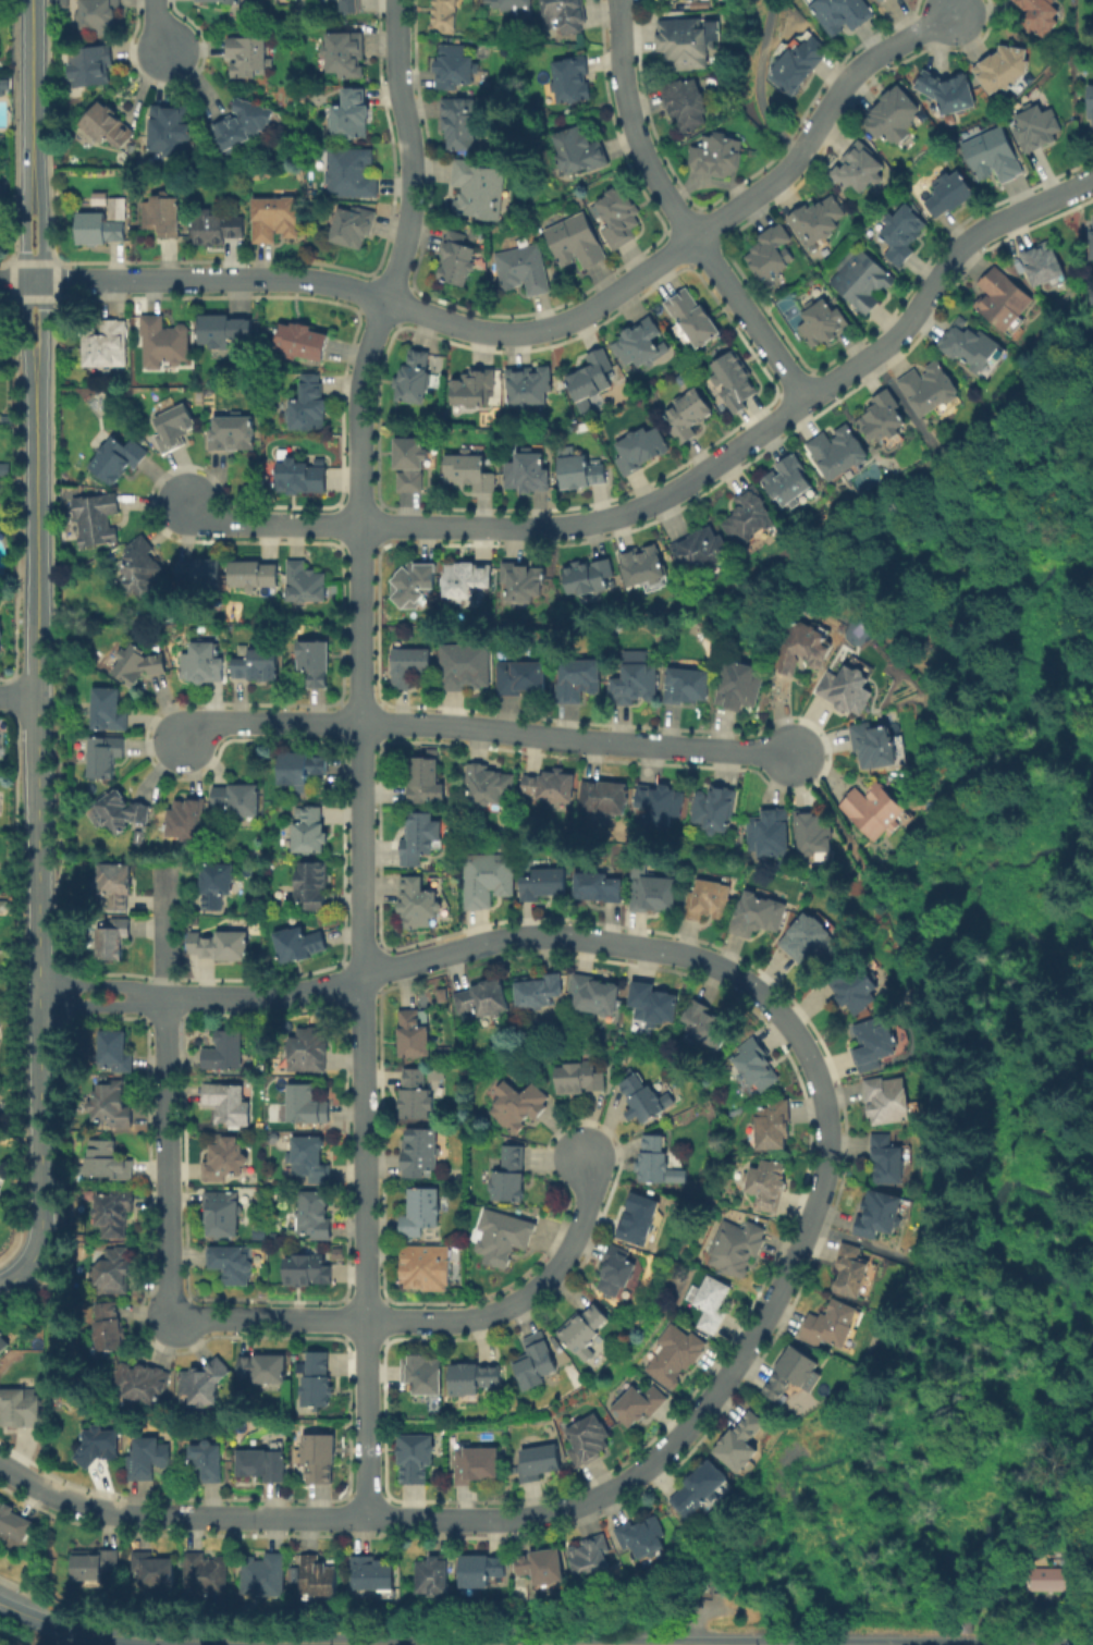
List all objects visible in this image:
building: (213, 0)
building: (284, 0)
building: (876, 0)
building: (352, 8)
building: (517, 9)
building: (567, 12)
building: (447, 13)
building: (835, 13)
building: (100, 14)
building: (1043, 15)
road: (158, 26)
building: (686, 44)
building: (341, 48)
building: (248, 58)
building: (794, 59)
building: (88, 63)
building: (1000, 65)
building: (457, 66)
park: (763, 74)
building: (574, 81)
road: (32, 84)
road: (754, 85)
building: (2, 86)
building: (946, 93)
building: (687, 103)
building: (1091, 103)
building: (894, 112)
building: (351, 113)
road: (819, 115)
building: (463, 120)
building: (101, 122)
building: (167, 127)
building: (244, 127)
building: (1040, 127)
building: (578, 154)
building: (995, 154)
building: (714, 159)
building: (860, 168)
building: (351, 170)
building: (476, 185)
building: (948, 189)
building: (118, 207)
road: (678, 209)
building: (164, 210)
building: (277, 214)
building: (621, 217)
building: (815, 219)
building: (352, 225)
building: (98, 226)
building: (220, 226)
building: (904, 232)
building: (1090, 236)
building: (576, 242)
building: (767, 254)
building: (457, 259)
building: (1046, 261)
road: (26, 268)
road: (42, 269)
building: (524, 270)
building: (863, 281)
road: (366, 292)
building: (1091, 293)
building: (1005, 300)
building: (820, 319)
building: (690, 321)
building: (224, 337)
building: (160, 340)
building: (103, 341)
building: (304, 341)
building: (638, 344)
building: (972, 348)
building: (734, 371)
building: (589, 375)
building: (410, 379)
building: (474, 384)
building: (526, 385)
building: (931, 389)
building: (307, 402)
building: (688, 412)
building: (885, 422)
building: (173, 428)
road: (762, 429)
building: (231, 433)
building: (638, 445)
building: (838, 453)
building: (116, 456)
building: (405, 457)
building: (465, 466)
building: (575, 466)
building: (3, 468)
building: (524, 468)
building: (302, 476)
building: (789, 481)
building: (96, 517)
building: (750, 518)
road: (270, 523)
building: (704, 552)
building: (641, 568)
building: (137, 572)
building: (204, 572)
building: (587, 574)
building: (525, 577)
building: (466, 579)
building: (257, 580)
building: (415, 582)
building: (305, 587)
building: (0, 638)
building: (805, 652)
building: (199, 658)
building: (315, 658)
building: (132, 659)
building: (260, 663)
building: (408, 664)
building: (467, 668)
building: (578, 677)
building: (523, 678)
building: (636, 679)
building: (687, 688)
building: (741, 688)
building: (850, 690)
road: (19, 696)
building: (105, 707)
road: (269, 722)
road: (579, 738)
building: (875, 749)
building: (102, 754)
road: (366, 754)
building: (305, 771)
building: (426, 778)
building: (487, 779)
building: (554, 785)
building: (604, 795)
building: (662, 801)
building: (240, 802)
building: (715, 809)
building: (122, 811)
building: (876, 812)
building: (184, 818)
road: (38, 821)
building: (312, 835)
building: (418, 838)
building: (771, 838)
building: (815, 838)
building: (217, 882)
building: (489, 882)
building: (546, 885)
building: (114, 888)
building: (600, 888)
building: (316, 889)
building: (655, 895)
building: (708, 901)
building: (420, 906)
building: (4, 907)
building: (0, 912)
building: (758, 917)
building: (805, 940)
building: (111, 942)
building: (223, 944)
building: (303, 947)
building: (541, 991)
building: (855, 992)
building: (597, 995)
building: (487, 996)
building: (653, 1002)
building: (2, 1022)
building: (708, 1028)
building: (416, 1039)
building: (879, 1042)
building: (315, 1051)
building: (116, 1055)
building: (228, 1055)
building: (756, 1071)
building: (582, 1079)
building: (418, 1097)
building: (642, 1098)
building: (517, 1102)
building: (888, 1103)
building: (231, 1106)
building: (114, 1107)
building: (312, 1108)
building: (2, 1117)
building: (774, 1128)
building: (422, 1149)
road: (171, 1159)
building: (658, 1161)
building: (230, 1162)
building: (312, 1162)
building: (888, 1162)
building: (109, 1163)
building: (507, 1176)
building: (766, 1186)
building: (419, 1210)
road: (812, 1211)
building: (118, 1214)
building: (316, 1214)
building: (224, 1216)
building: (883, 1218)
building: (640, 1222)
building: (503, 1238)
building: (736, 1248)
building: (231, 1265)
building: (427, 1268)
building: (114, 1273)
building: (307, 1274)
building: (621, 1275)
building: (853, 1275)
road: (12, 1278)
road: (525, 1299)
building: (710, 1301)
road: (271, 1321)
building: (832, 1327)
building: (111, 1330)
building: (587, 1331)
building: (3, 1346)
building: (674, 1354)
building: (538, 1362)
building: (268, 1371)
building: (426, 1377)
building: (793, 1379)
building: (476, 1382)
building: (205, 1384)
building: (320, 1385)
building: (145, 1387)
building: (637, 1404)
building: (22, 1412)
building: (588, 1441)
building: (742, 1447)
building: (101, 1448)
building: (321, 1459)
building: (417, 1460)
building: (543, 1461)
building: (211, 1463)
building: (151, 1464)
building: (478, 1468)
building: (267, 1470)
building: (703, 1494)
building: (15, 1526)
building: (647, 1542)
building: (594, 1562)
building: (546, 1570)
building: (99, 1571)
building: (157, 1573)
building: (211, 1574)
building: (270, 1578)
building: (487, 1578)
building: (1049, 1580)
building: (434, 1581)
building: (322, 1582)
building: (381, 1582)
road: (13, 1609)
road: (237, 1641)

